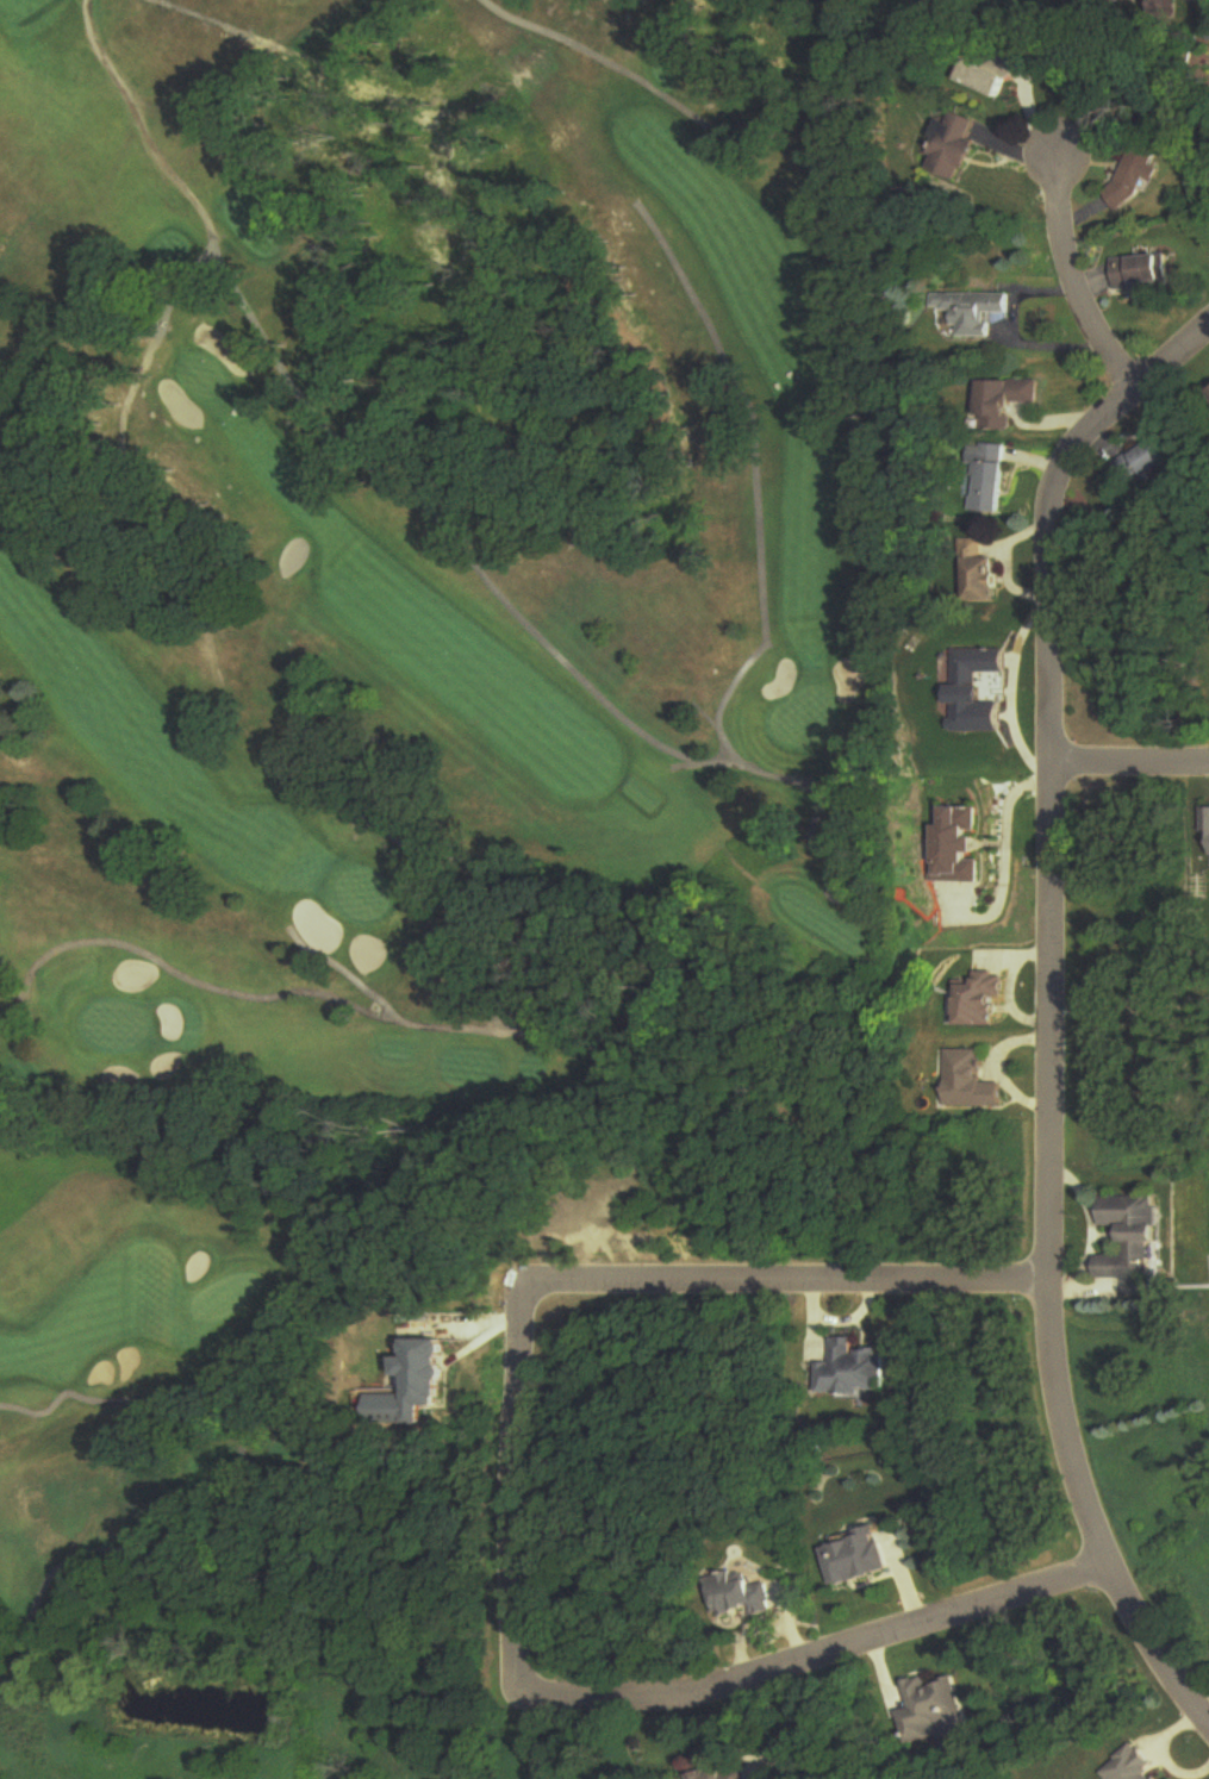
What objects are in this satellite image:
building: (1127, 0)
building: (953, 4)
building: (996, 76)
building: (954, 148)
building: (1139, 177)
building: (1142, 273)
road: (1052, 281)
building: (962, 312)
building: (998, 402)
road: (1105, 417)
building: (1155, 457)
building: (990, 481)
building: (984, 581)
park: (410, 674)
road: (1008, 688)
building: (973, 692)
road: (1127, 770)
road: (1005, 811)
building: (1205, 822)
building: (961, 849)
building: (979, 1000)
building: (970, 1081)
road: (1041, 1149)
building: (1132, 1238)
building: (858, 1369)
building: (418, 1386)
road: (511, 1535)
building: (860, 1558)
building: (746, 1596)
building: (936, 1711)
building: (1132, 1766)
building: (733, 1773)

